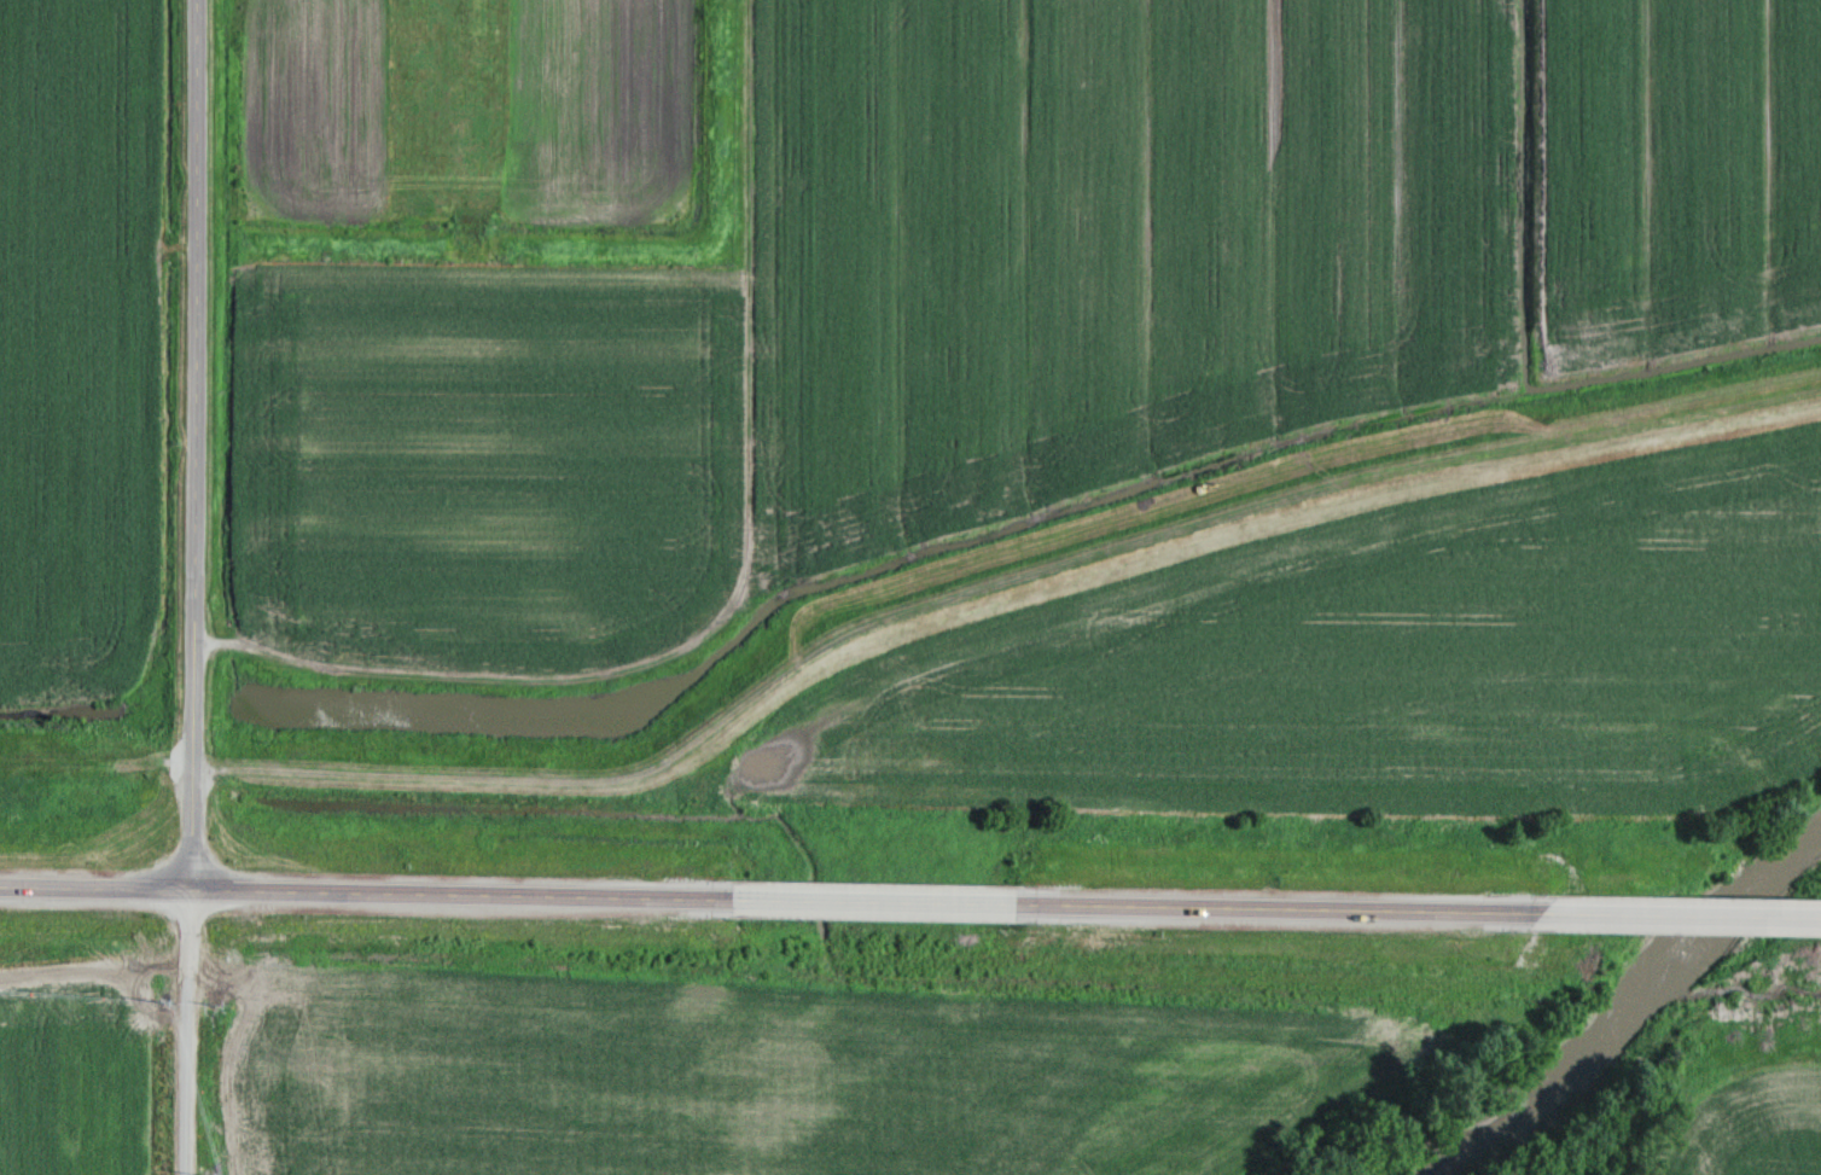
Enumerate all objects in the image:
road: (190, 443)
road: (728, 896)
road: (1639, 913)
river: (1630, 1001)
road: (186, 1030)

